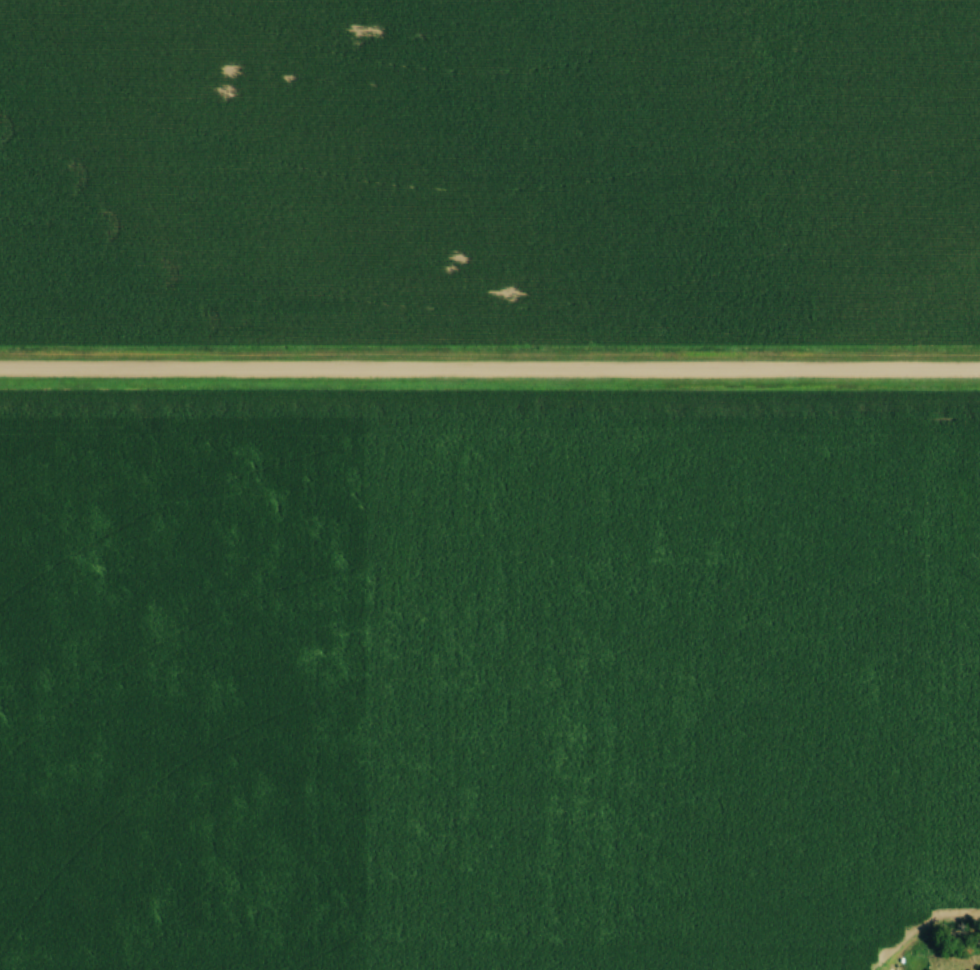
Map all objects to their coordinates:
road: (490, 371)

